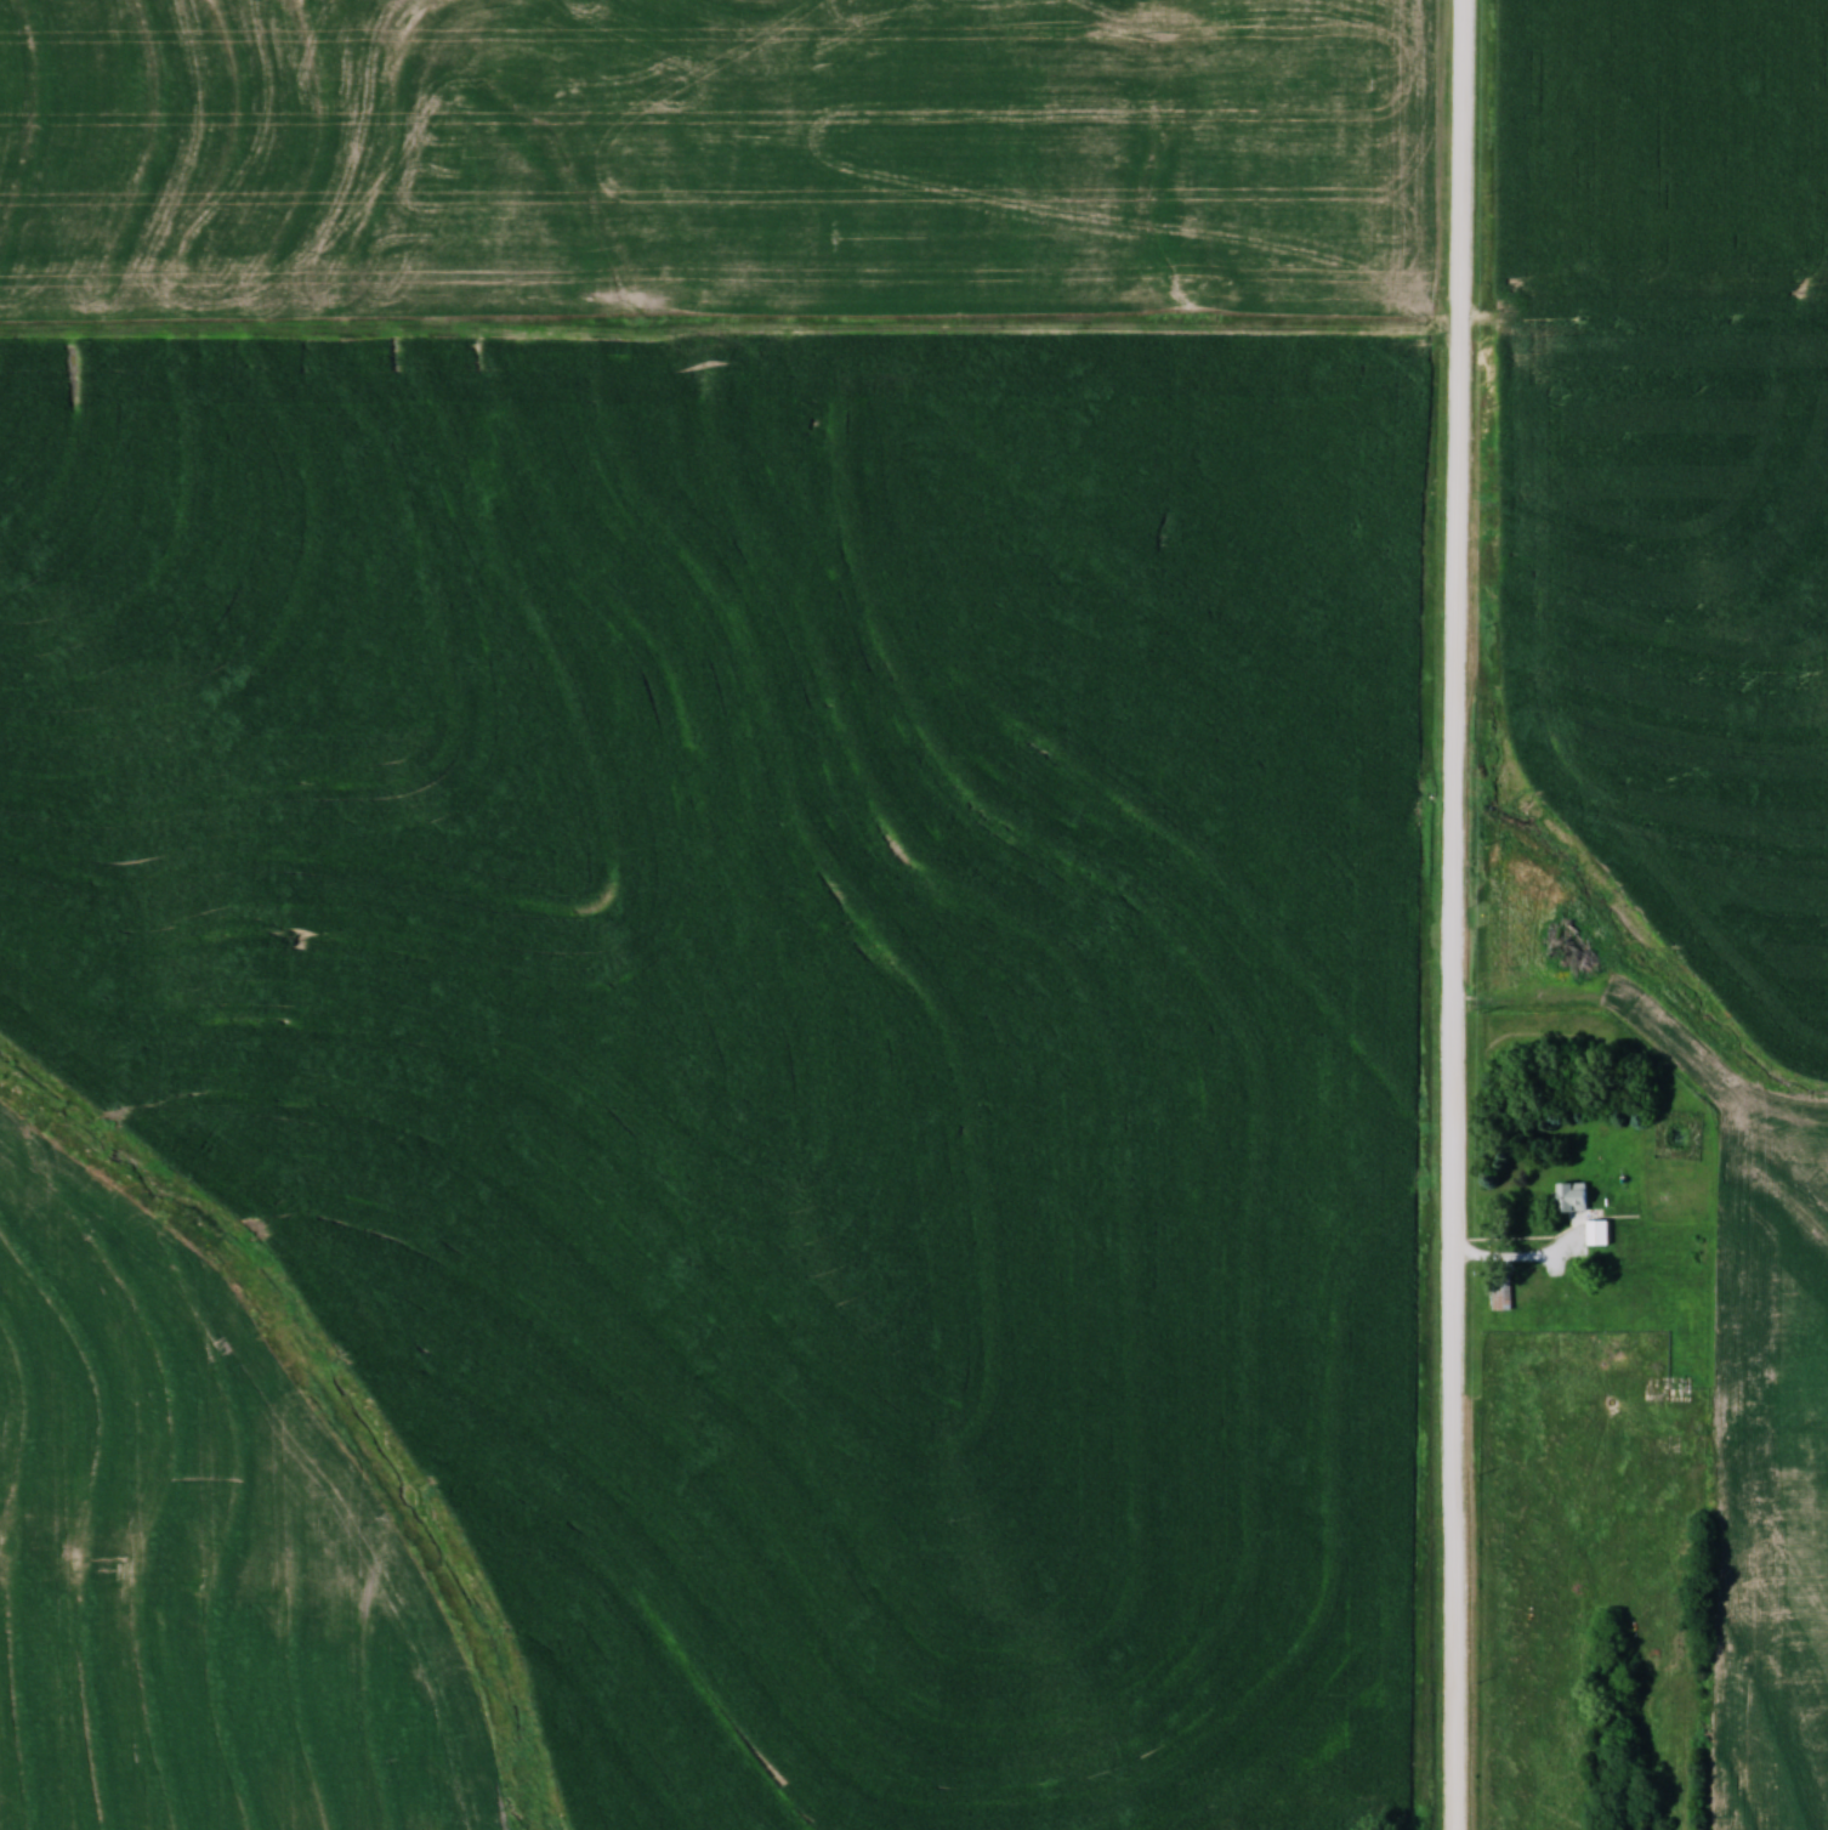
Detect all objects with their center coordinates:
road: (1458, 914)
building: (1574, 1196)
building: (1600, 1231)
road: (1535, 1263)

